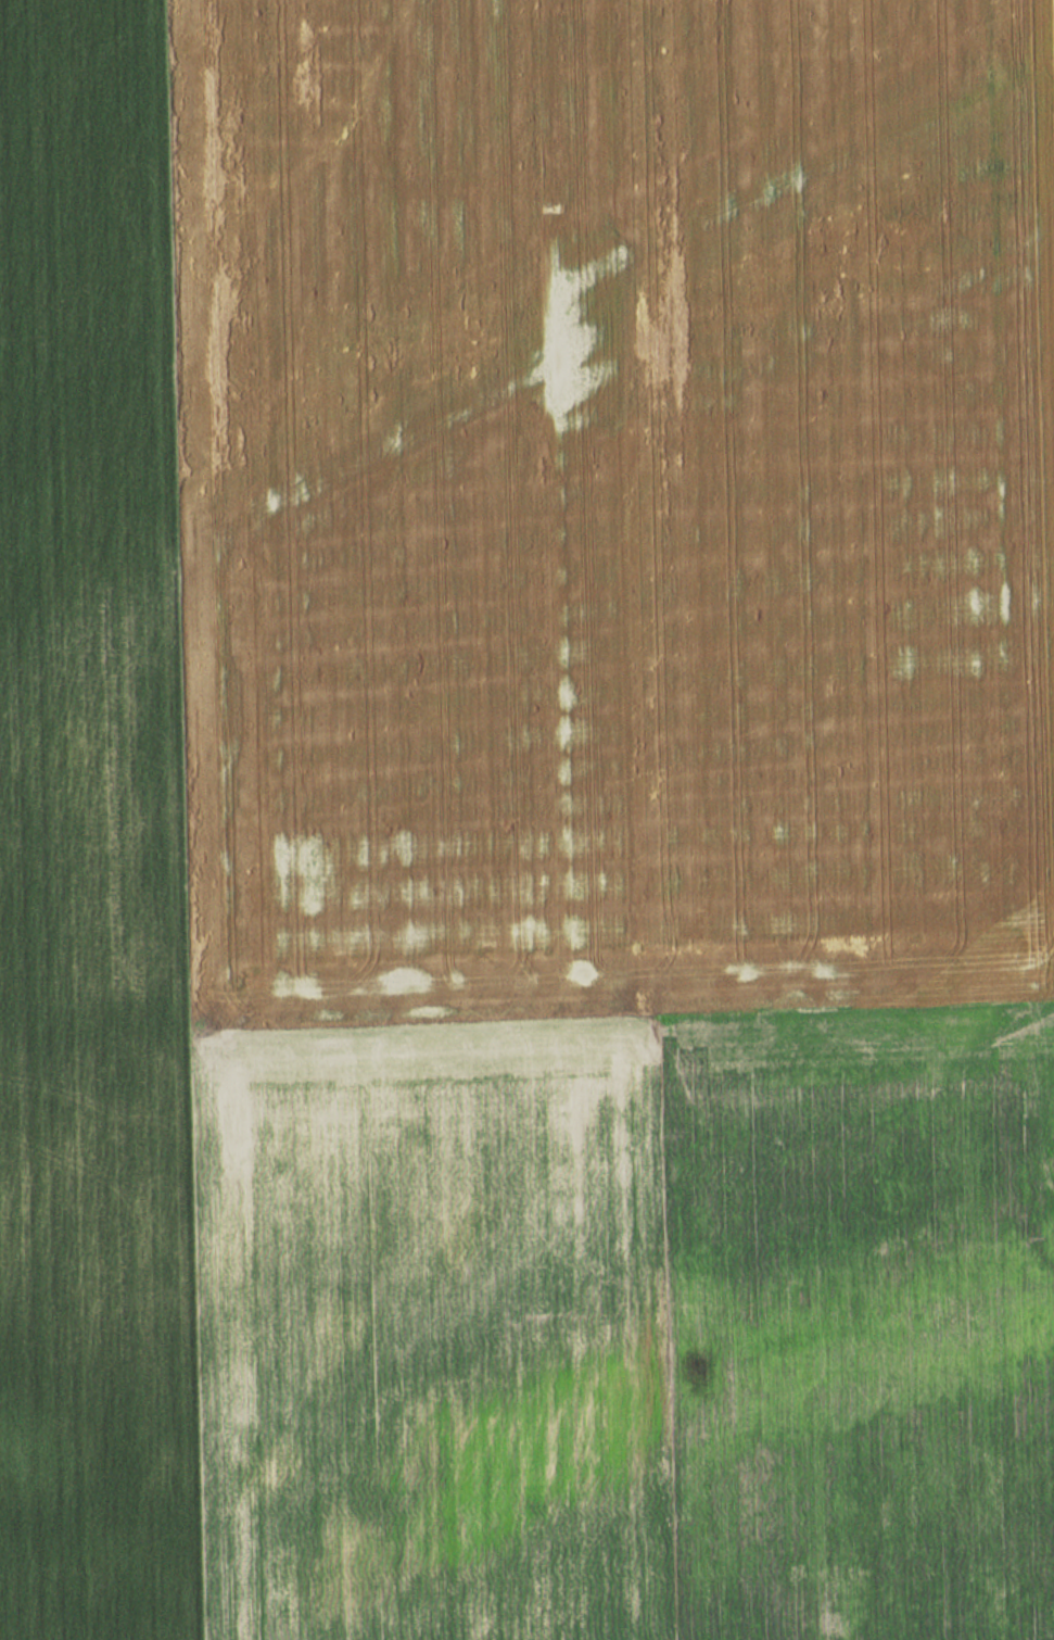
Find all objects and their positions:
crop: (597, 502)
crop: (84, 531)
crop: (533, 1333)

